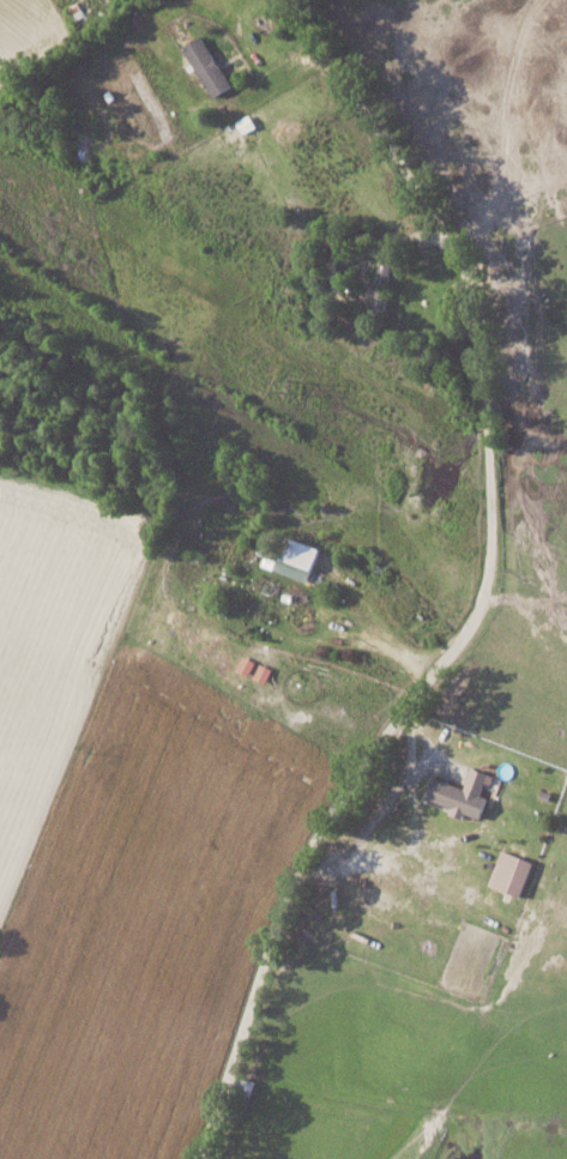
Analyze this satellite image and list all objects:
building: (209, 66)
power tower: (288, 379)
building: (291, 556)
road: (485, 591)
building: (463, 792)
building: (512, 871)

